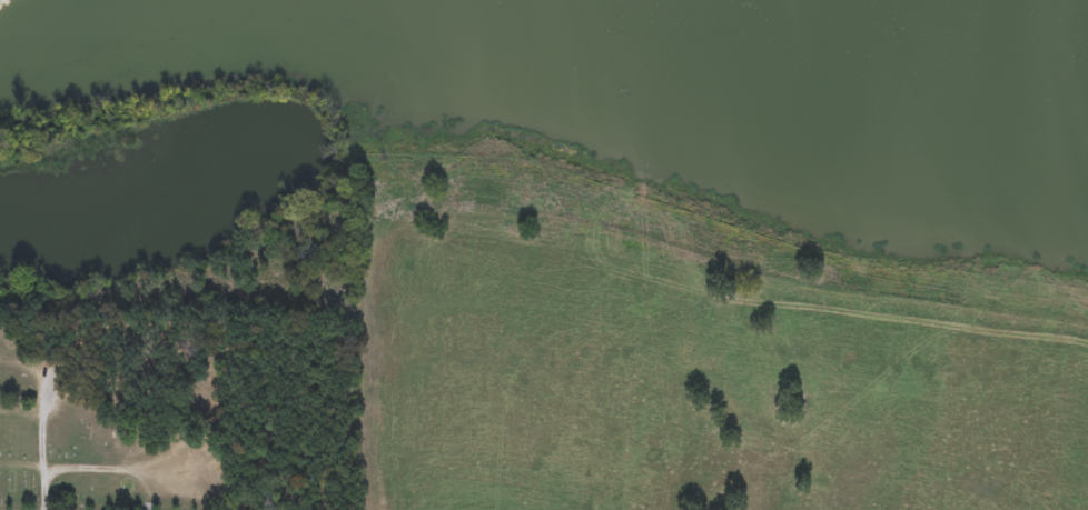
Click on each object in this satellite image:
road: (47, 393)
road: (20, 411)
park: (111, 412)
road: (41, 462)
road: (20, 466)
road: (107, 470)

